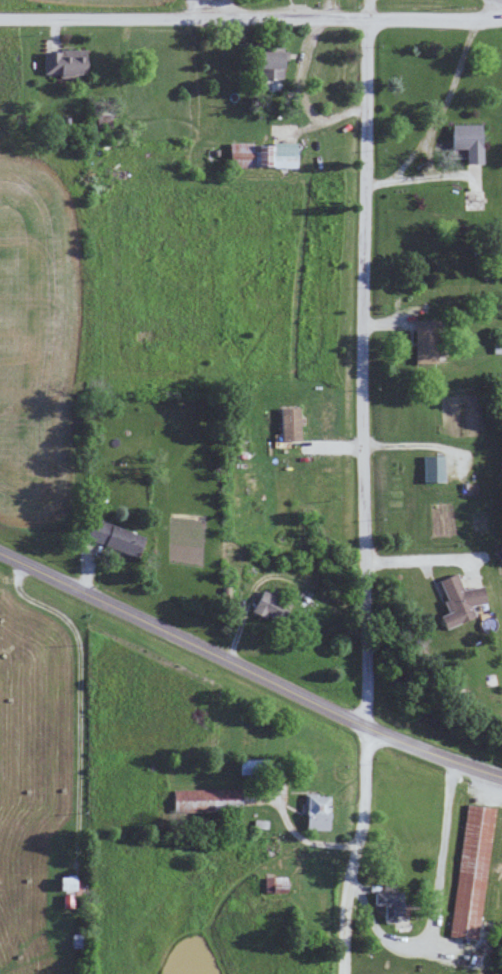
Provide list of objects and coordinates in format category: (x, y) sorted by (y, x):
road: (377, 17)
road: (126, 18)
building: (269, 60)
building: (62, 62)
road: (434, 113)
building: (465, 140)
building: (259, 154)
building: (422, 341)
road: (361, 370)
building: (287, 423)
building: (431, 468)
building: (113, 536)
road: (417, 557)
building: (456, 600)
building: (266, 606)
road: (248, 670)
building: (252, 766)
building: (205, 799)
building: (315, 811)
road: (351, 850)
building: (471, 871)
building: (66, 882)
building: (274, 884)

